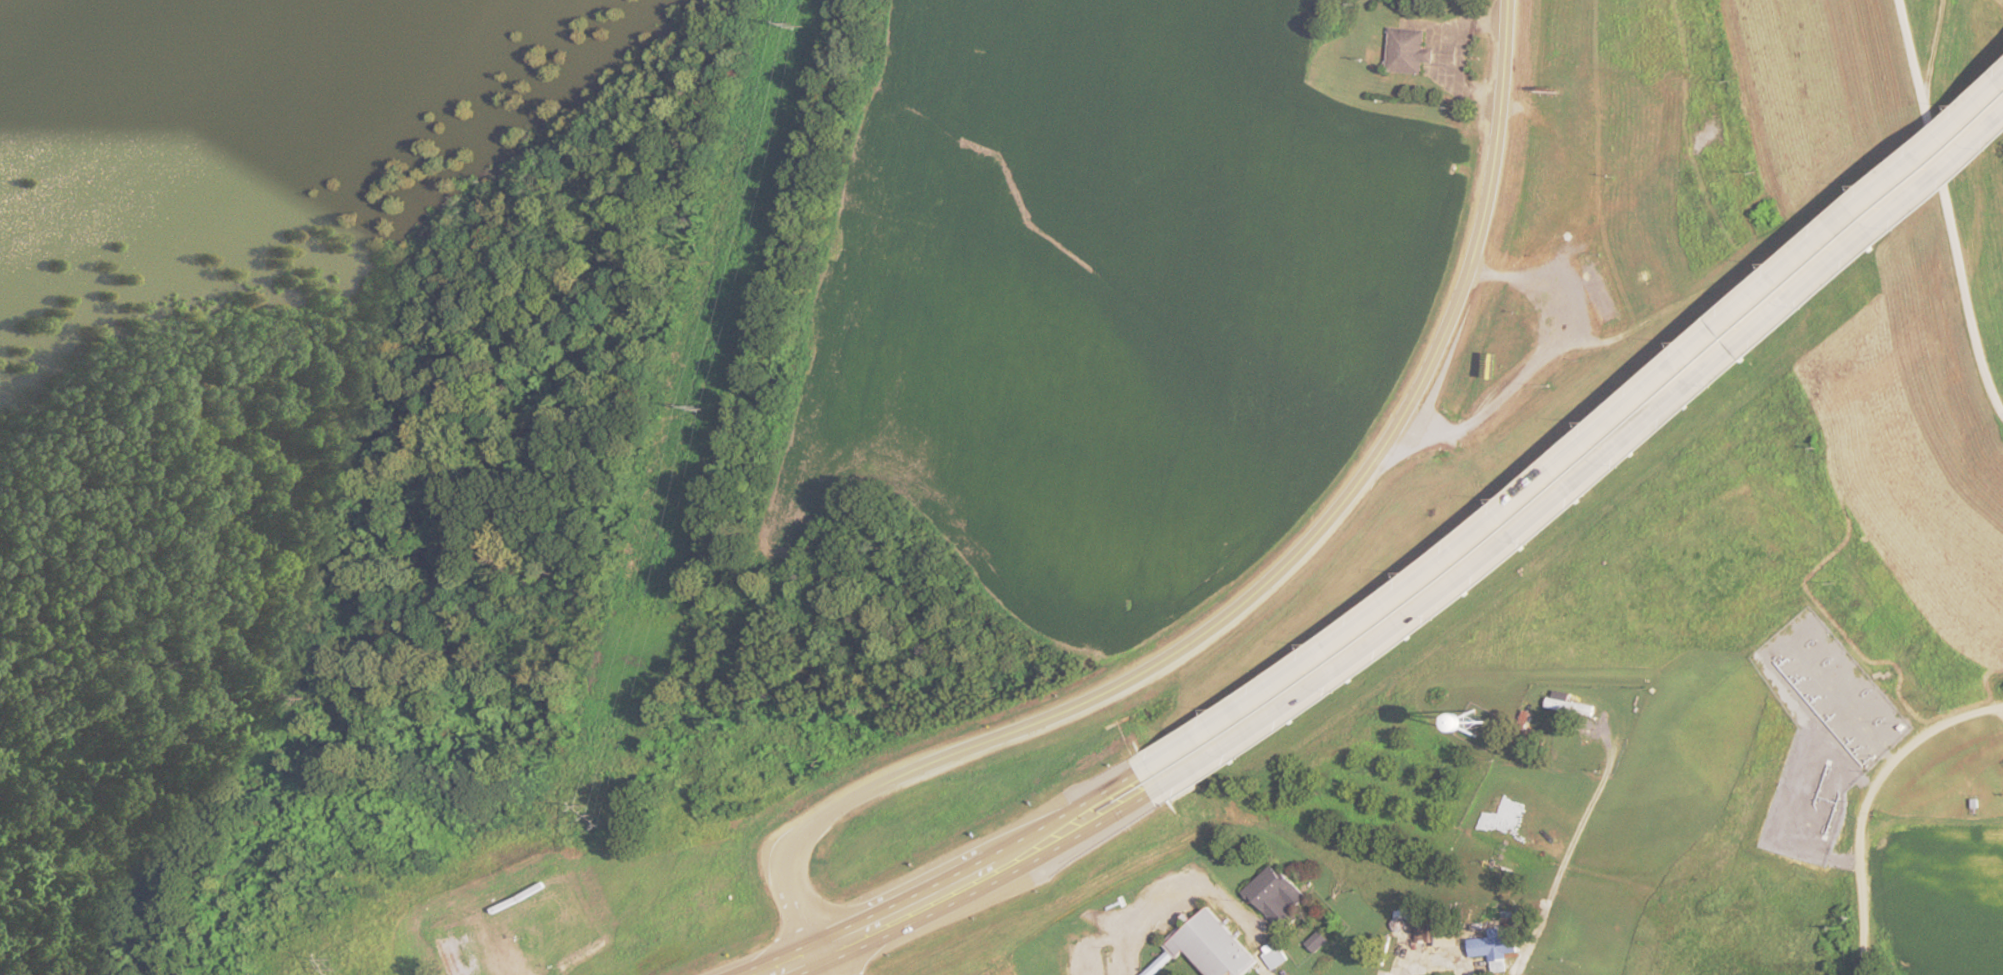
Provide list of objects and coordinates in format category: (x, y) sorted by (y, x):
power tower: (791, 31)
road: (1929, 49)
building: (1404, 54)
road: (1946, 209)
power tower: (698, 413)
road: (1580, 442)
road: (1587, 473)
road: (1267, 583)
water tower: (1504, 720)
building: (1197, 762)
road: (1863, 801)
power tower: (585, 820)
road: (1083, 834)
road: (1570, 855)
road: (975, 864)
building: (1275, 907)
road: (922, 918)
building: (1442, 942)
building: (1215, 944)
building: (1489, 949)
road: (777, 960)
road: (820, 960)
building: (1272, 962)
power tower: (329, 967)
road: (815, 971)

